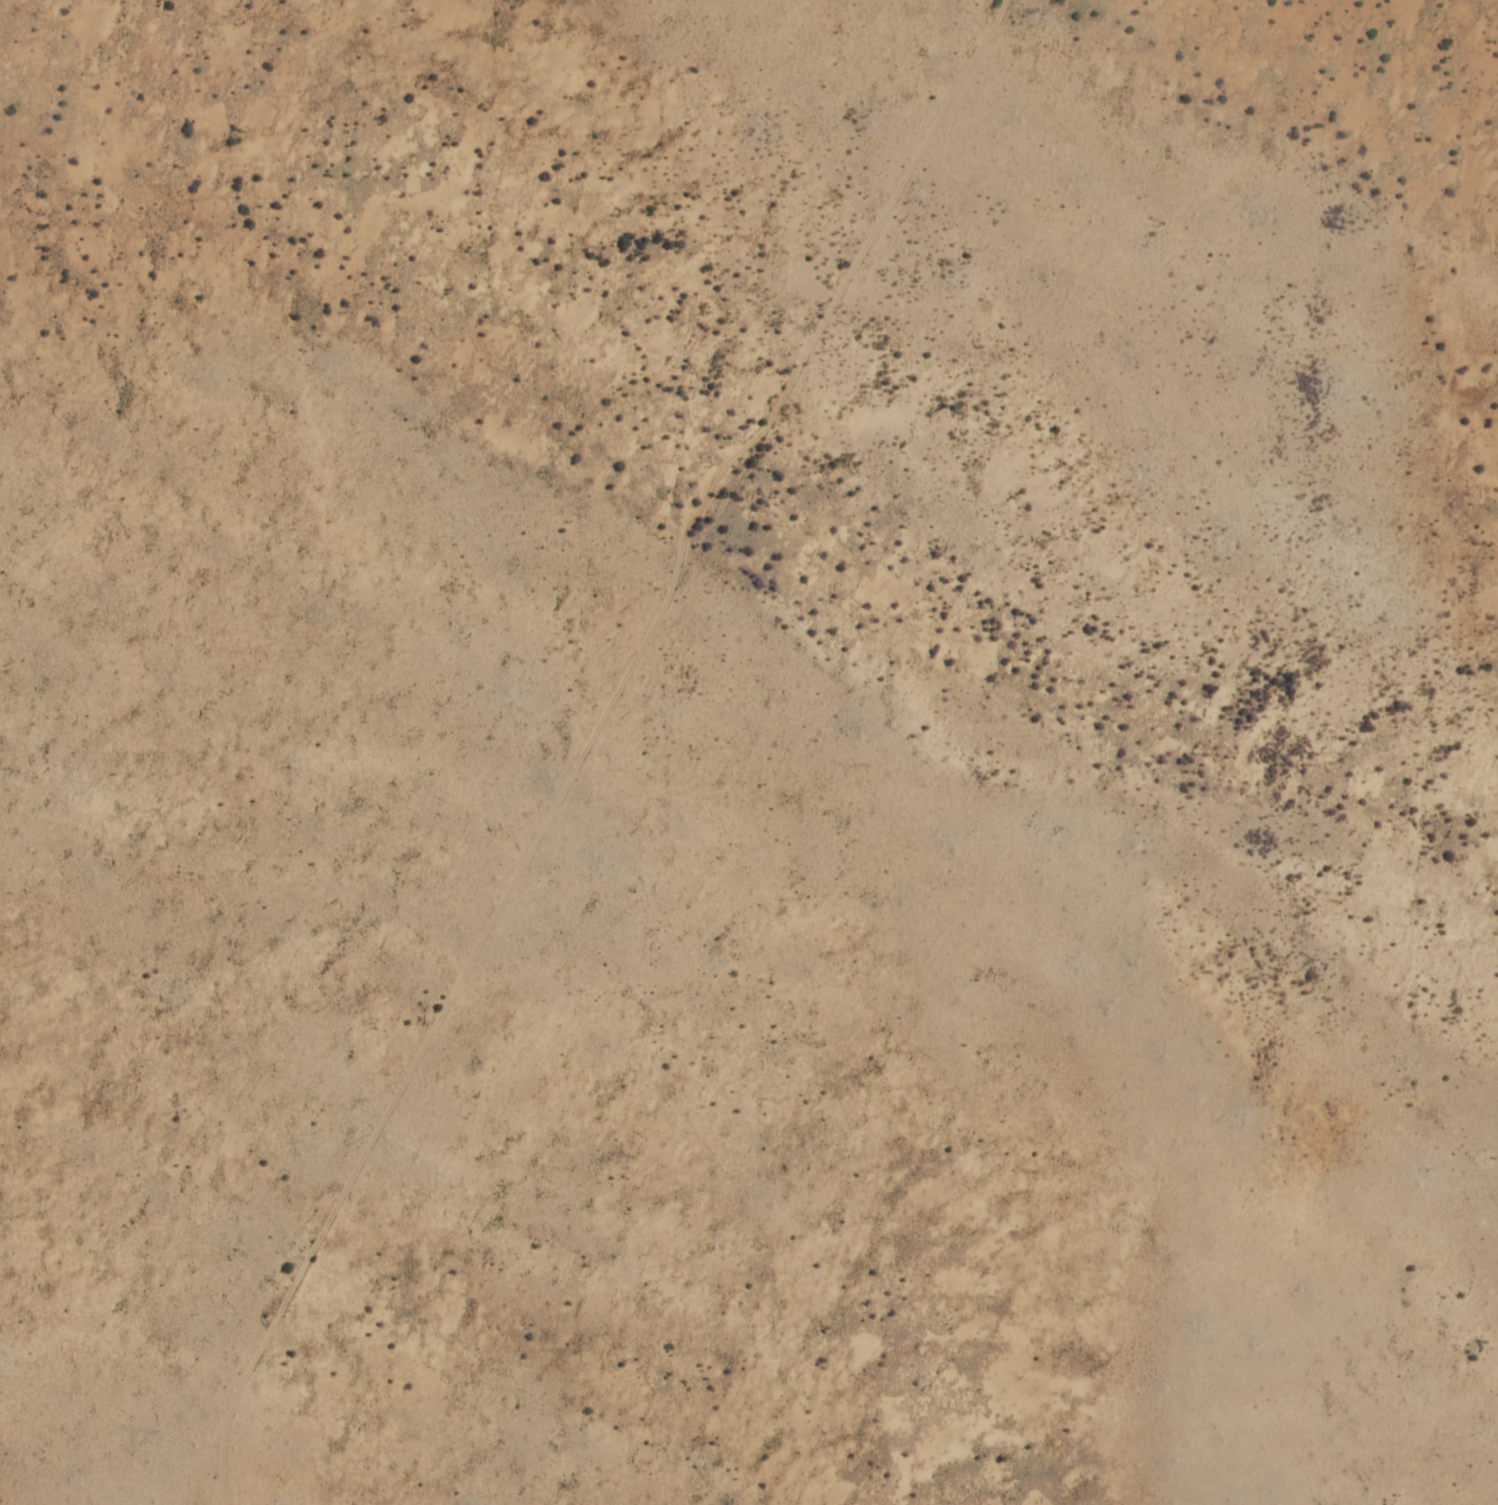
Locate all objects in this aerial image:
road: (650, 759)
road: (1447, 1382)

